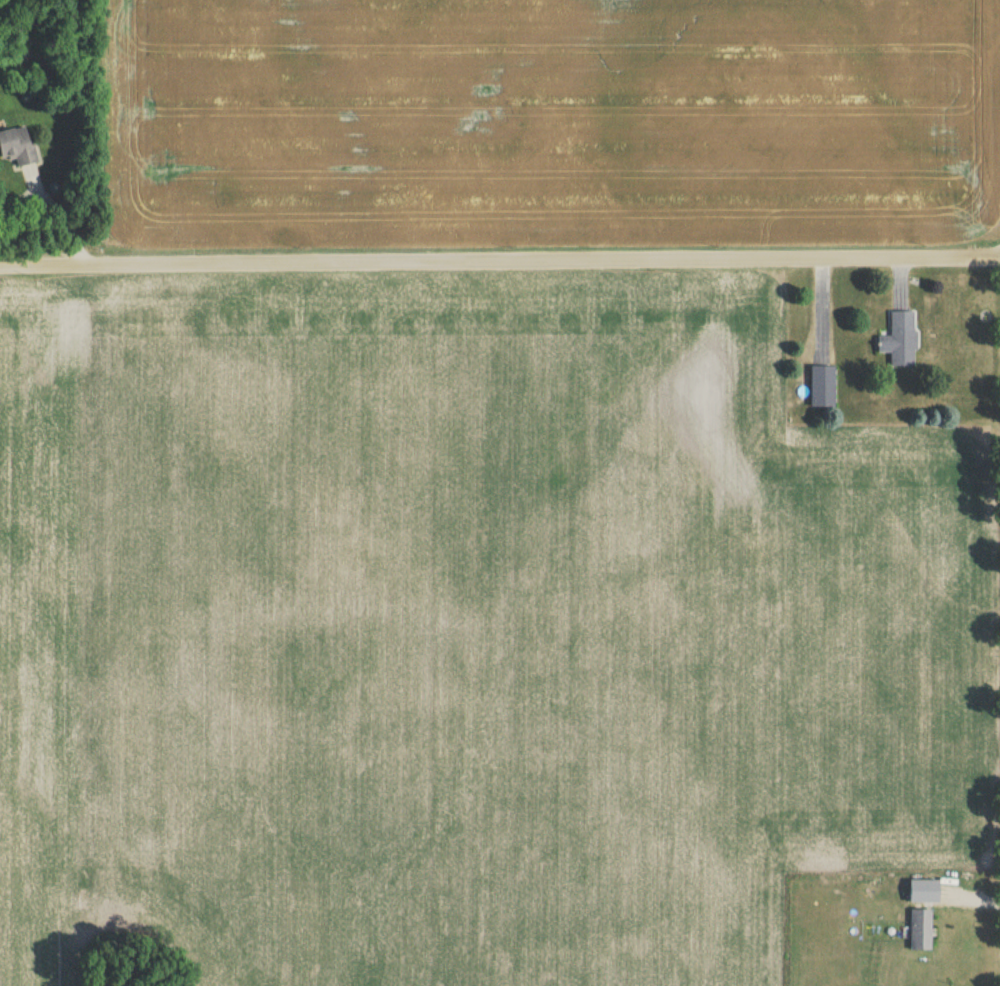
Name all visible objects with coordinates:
building: (15, 148)
road: (55, 220)
road: (499, 265)
building: (898, 343)
building: (819, 390)
building: (917, 933)

